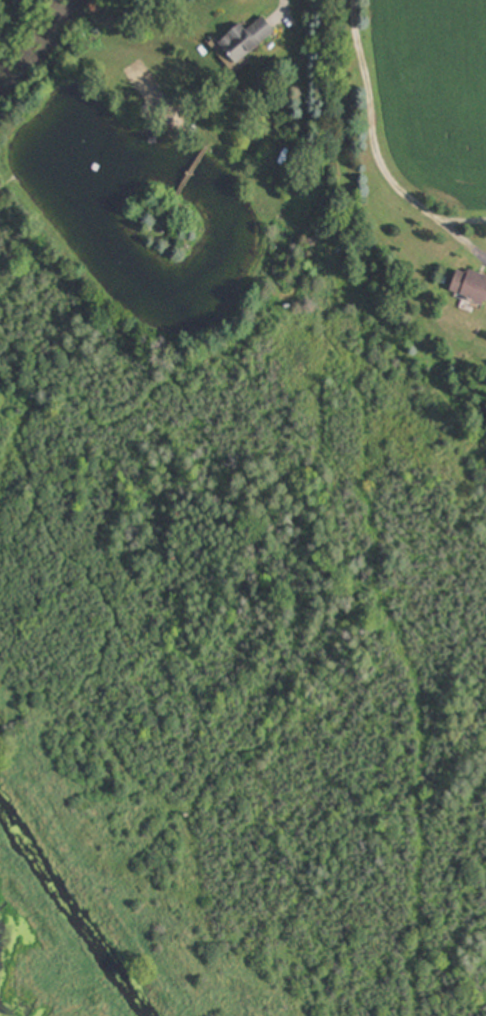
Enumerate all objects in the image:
road: (286, 6)
building: (248, 39)
road: (373, 148)
building: (471, 286)
river: (71, 912)

